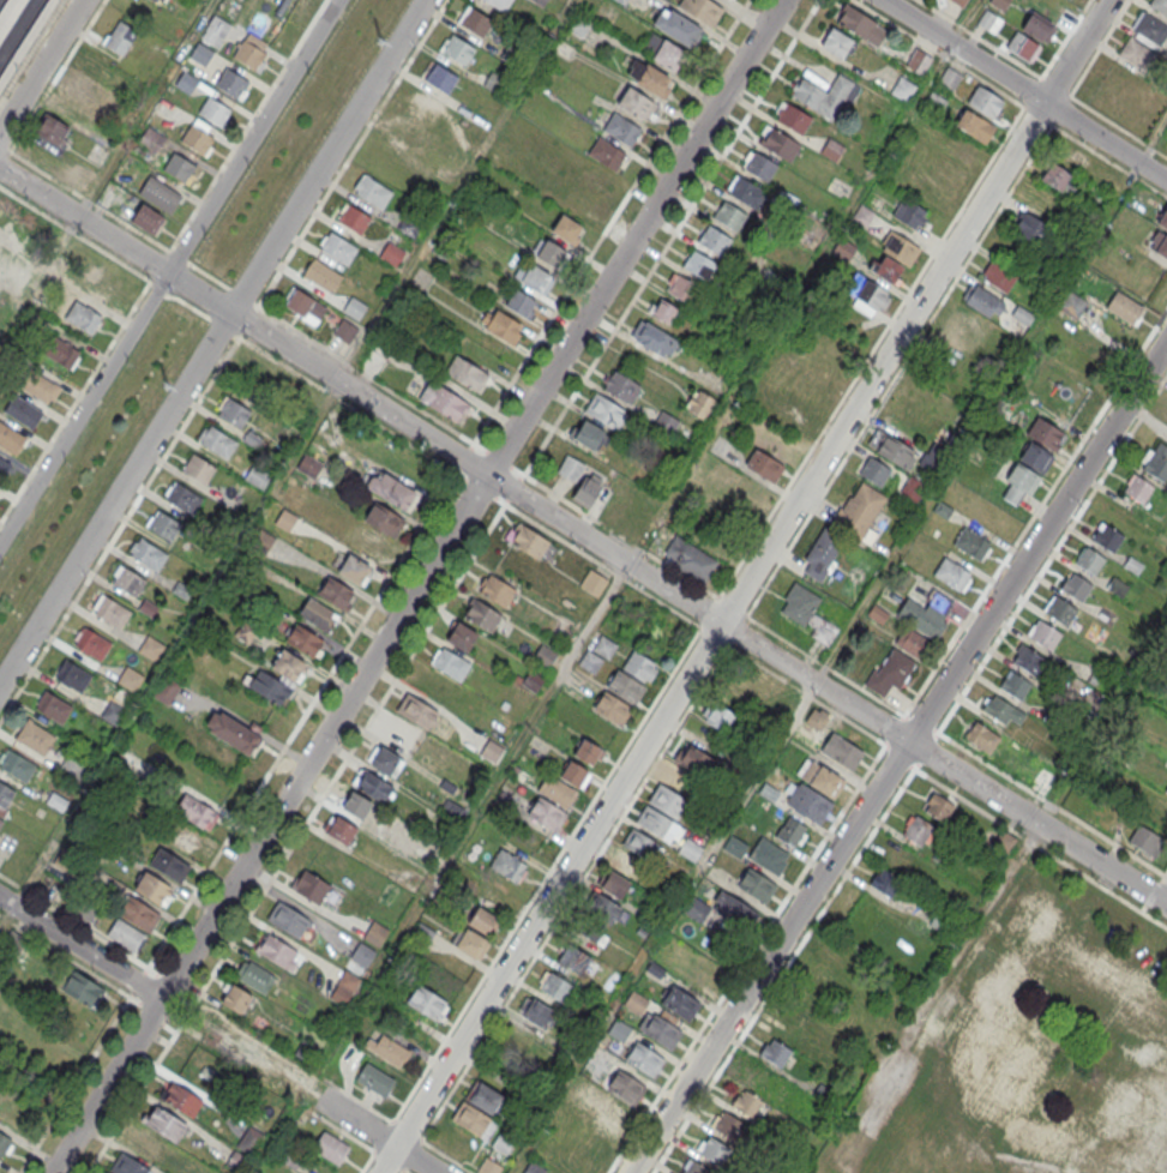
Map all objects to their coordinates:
building: (160, 0)
building: (621, 1)
building: (539, 2)
building: (960, 2)
building: (498, 4)
building: (1000, 4)
building: (287, 5)
building: (1160, 5)
building: (702, 10)
building: (8, 13)
building: (475, 20)
building: (855, 20)
building: (989, 20)
building: (578, 25)
building: (217, 26)
building: (1037, 26)
building: (678, 28)
building: (1151, 28)
building: (119, 37)
road: (1065, 38)
building: (25, 40)
power tower: (379, 41)
building: (838, 43)
building: (1023, 47)
building: (457, 48)
road: (1099, 48)
building: (200, 53)
building: (664, 53)
building: (1136, 53)
building: (249, 54)
building: (511, 55)
building: (919, 61)
road: (41, 65)
building: (94, 67)
building: (440, 77)
building: (949, 78)
road: (1041, 78)
building: (649, 79)
building: (186, 82)
building: (231, 83)
building: (493, 83)
building: (79, 88)
building: (902, 88)
road: (1024, 90)
building: (808, 95)
building: (985, 101)
building: (636, 103)
building: (423, 106)
building: (213, 110)
building: (793, 118)
building: (975, 126)
building: (52, 128)
building: (621, 128)
building: (195, 138)
building: (151, 140)
building: (778, 143)
building: (832, 149)
building: (606, 152)
building: (1075, 155)
building: (760, 166)
building: (178, 167)
road: (341, 168)
building: (78, 174)
building: (1060, 179)
building: (371, 190)
building: (590, 190)
building: (746, 191)
building: (160, 194)
building: (1093, 201)
building: (910, 212)
building: (861, 215)
building: (730, 216)
building: (353, 217)
building: (146, 218)
building: (1163, 218)
road: (610, 222)
building: (405, 225)
building: (567, 228)
building: (1031, 228)
road: (670, 237)
building: (715, 240)
building: (1159, 243)
building: (338, 247)
building: (900, 247)
building: (843, 248)
building: (391, 252)
building: (551, 252)
building: (699, 265)
building: (886, 267)
road: (168, 270)
building: (321, 275)
building: (998, 276)
building: (536, 277)
road: (913, 283)
building: (680, 287)
building: (867, 295)
building: (983, 301)
building: (519, 302)
building: (1072, 305)
building: (305, 306)
building: (354, 307)
building: (1124, 308)
building: (663, 309)
building: (82, 315)
building: (504, 325)
building: (344, 329)
building: (654, 337)
road: (211, 341)
building: (60, 351)
building: (375, 359)
building: (467, 373)
power tower: (161, 385)
building: (38, 386)
building: (621, 386)
building: (444, 401)
building: (699, 403)
building: (22, 410)
building: (606, 410)
building: (233, 413)
building: (786, 415)
building: (666, 422)
building: (1045, 433)
building: (590, 434)
building: (10, 438)
building: (217, 441)
building: (892, 449)
building: (1036, 457)
building: (1155, 462)
building: (764, 464)
building: (2, 465)
building: (309, 465)
building: (571, 468)
building: (198, 469)
building: (874, 470)
building: (1022, 477)
building: (913, 488)
building: (1137, 488)
building: (391, 491)
building: (586, 492)
building: (184, 499)
building: (858, 511)
building: (384, 519)
building: (285, 521)
building: (164, 524)
road: (119, 529)
road: (584, 534)
building: (1107, 537)
building: (366, 541)
building: (530, 541)
building: (972, 543)
building: (148, 554)
building: (822, 554)
building: (691, 559)
building: (1089, 560)
road: (602, 565)
building: (354, 570)
building: (954, 573)
building: (128, 582)
building: (592, 583)
road: (874, 583)
road: (419, 585)
road: (742, 586)
building: (1075, 586)
building: (1119, 586)
building: (494, 590)
building: (335, 591)
building: (799, 602)
building: (112, 610)
building: (1060, 612)
building: (318, 614)
building: (482, 614)
building: (927, 614)
road: (595, 618)
building: (461, 636)
building: (1045, 636)
building: (303, 640)
building: (912, 642)
building: (92, 643)
building: (604, 646)
building: (150, 649)
building: (546, 655)
building: (1027, 658)
building: (590, 661)
road: (751, 661)
building: (449, 663)
building: (287, 664)
building: (639, 666)
building: (890, 672)
building: (72, 676)
building: (130, 679)
building: (531, 680)
building: (1013, 685)
building: (626, 686)
building: (267, 687)
building: (167, 690)
building: (53, 706)
building: (612, 708)
building: (414, 710)
building: (1001, 710)
building: (113, 714)
building: (718, 717)
building: (234, 733)
building: (981, 736)
building: (34, 738)
building: (492, 750)
building: (842, 751)
building: (588, 752)
road: (279, 754)
road: (897, 756)
building: (125, 757)
building: (384, 760)
building: (696, 760)
building: (17, 766)
building: (70, 769)
building: (575, 774)
building: (820, 777)
building: (1042, 777)
building: (684, 783)
building: (373, 786)
building: (555, 790)
building: (1166, 790)
building: (5, 794)
building: (667, 801)
building: (807, 801)
building: (55, 802)
building: (356, 805)
building: (938, 806)
building: (193, 810)
building: (546, 814)
building: (1, 822)
building: (658, 823)
building: (339, 828)
building: (790, 830)
building: (916, 830)
building: (181, 837)
building: (1003, 838)
building: (1147, 840)
road: (865, 846)
building: (642, 847)
building: (735, 847)
building: (690, 850)
building: (768, 855)
building: (898, 855)
building: (169, 864)
building: (507, 865)
building: (628, 865)
building: (884, 882)
building: (756, 884)
building: (615, 885)
building: (311, 886)
building: (154, 890)
road: (1153, 891)
road: (534, 892)
building: (495, 897)
building: (602, 907)
building: (726, 912)
building: (86, 913)
building: (138, 914)
building: (287, 920)
building: (481, 920)
road: (663, 927)
building: (591, 931)
building: (374, 933)
building: (125, 934)
building: (471, 944)
road: (82, 948)
building: (277, 952)
building: (361, 955)
building: (573, 960)
building: (254, 976)
building: (554, 986)
building: (343, 988)
building: (82, 989)
building: (235, 998)
building: (426, 1003)
building: (636, 1003)
building: (680, 1004)
building: (535, 1011)
building: (789, 1027)
building: (618, 1030)
building: (658, 1030)
building: (240, 1045)
building: (387, 1049)
building: (1065, 1049)
building: (775, 1053)
building: (643, 1059)
building: (503, 1065)
road: (84, 1071)
building: (374, 1079)
building: (626, 1088)
building: (591, 1095)
building: (483, 1096)
building: (180, 1100)
building: (747, 1105)
building: (474, 1120)
building: (164, 1124)
building: (728, 1126)
road: (377, 1136)
building: (249, 1141)
building: (503, 1143)
building: (5, 1145)
building: (143, 1145)
building: (330, 1148)
building: (715, 1153)
building: (291, 1157)
road: (366, 1165)
building: (126, 1166)
building: (488, 1166)
building: (694, 1168)
road: (404, 1172)

